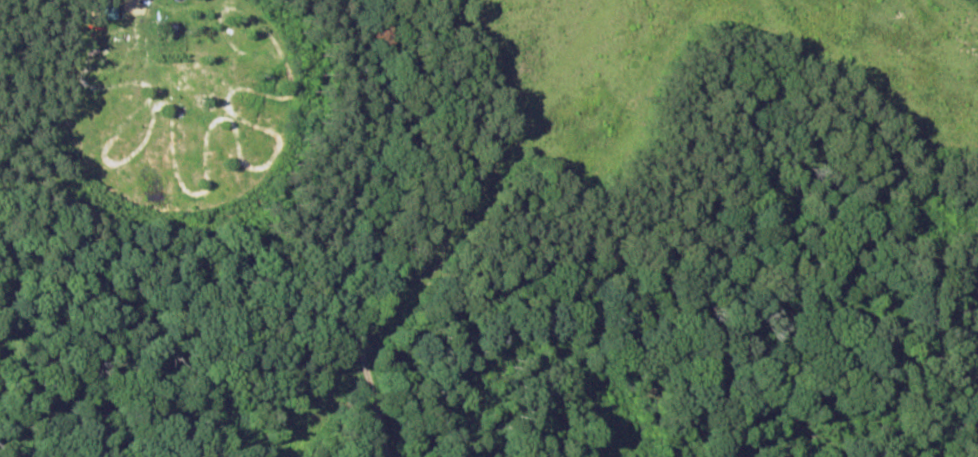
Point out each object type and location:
building: (108, 10)
road: (372, 227)

